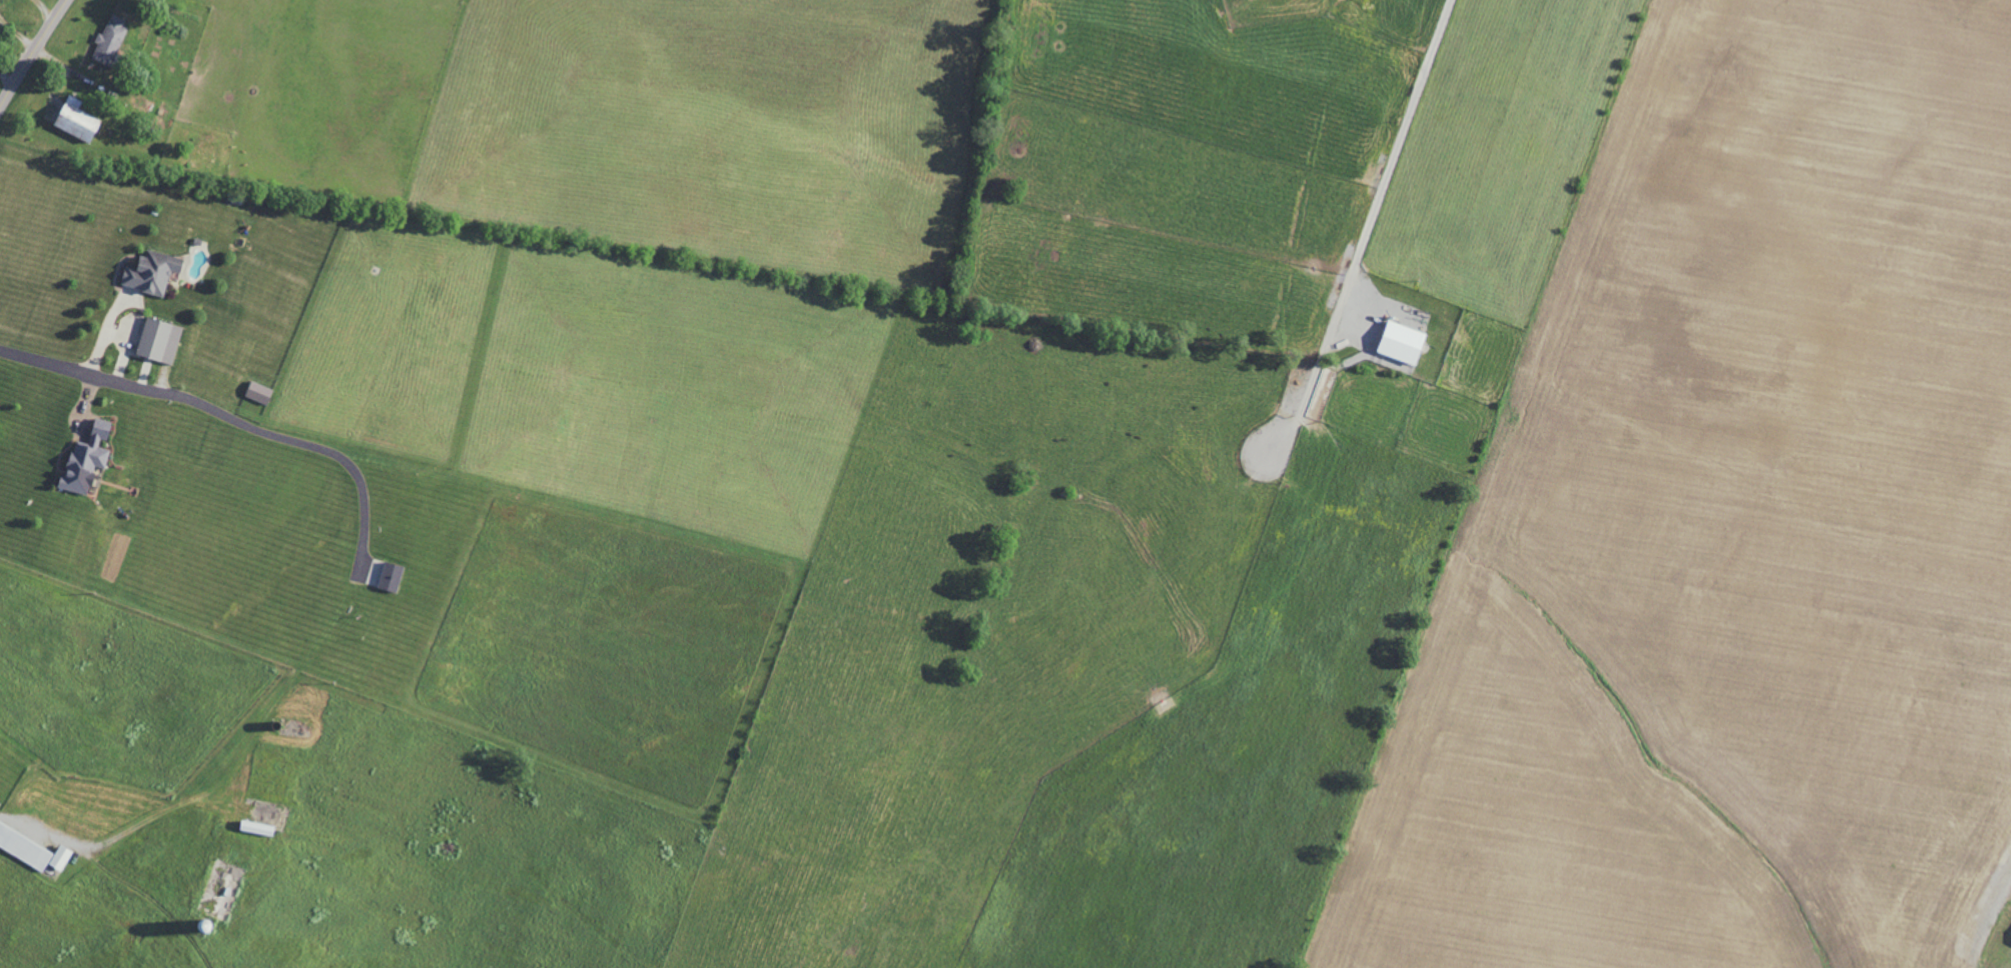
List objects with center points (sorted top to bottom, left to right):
building: (109, 41)
road: (33, 53)
road: (8, 76)
building: (75, 120)
road: (1399, 145)
building: (150, 273)
building: (158, 341)
building: (1400, 346)
road: (81, 371)
building: (258, 393)
building: (85, 460)
building: (389, 576)
building: (255, 827)
building: (23, 848)
building: (59, 857)

